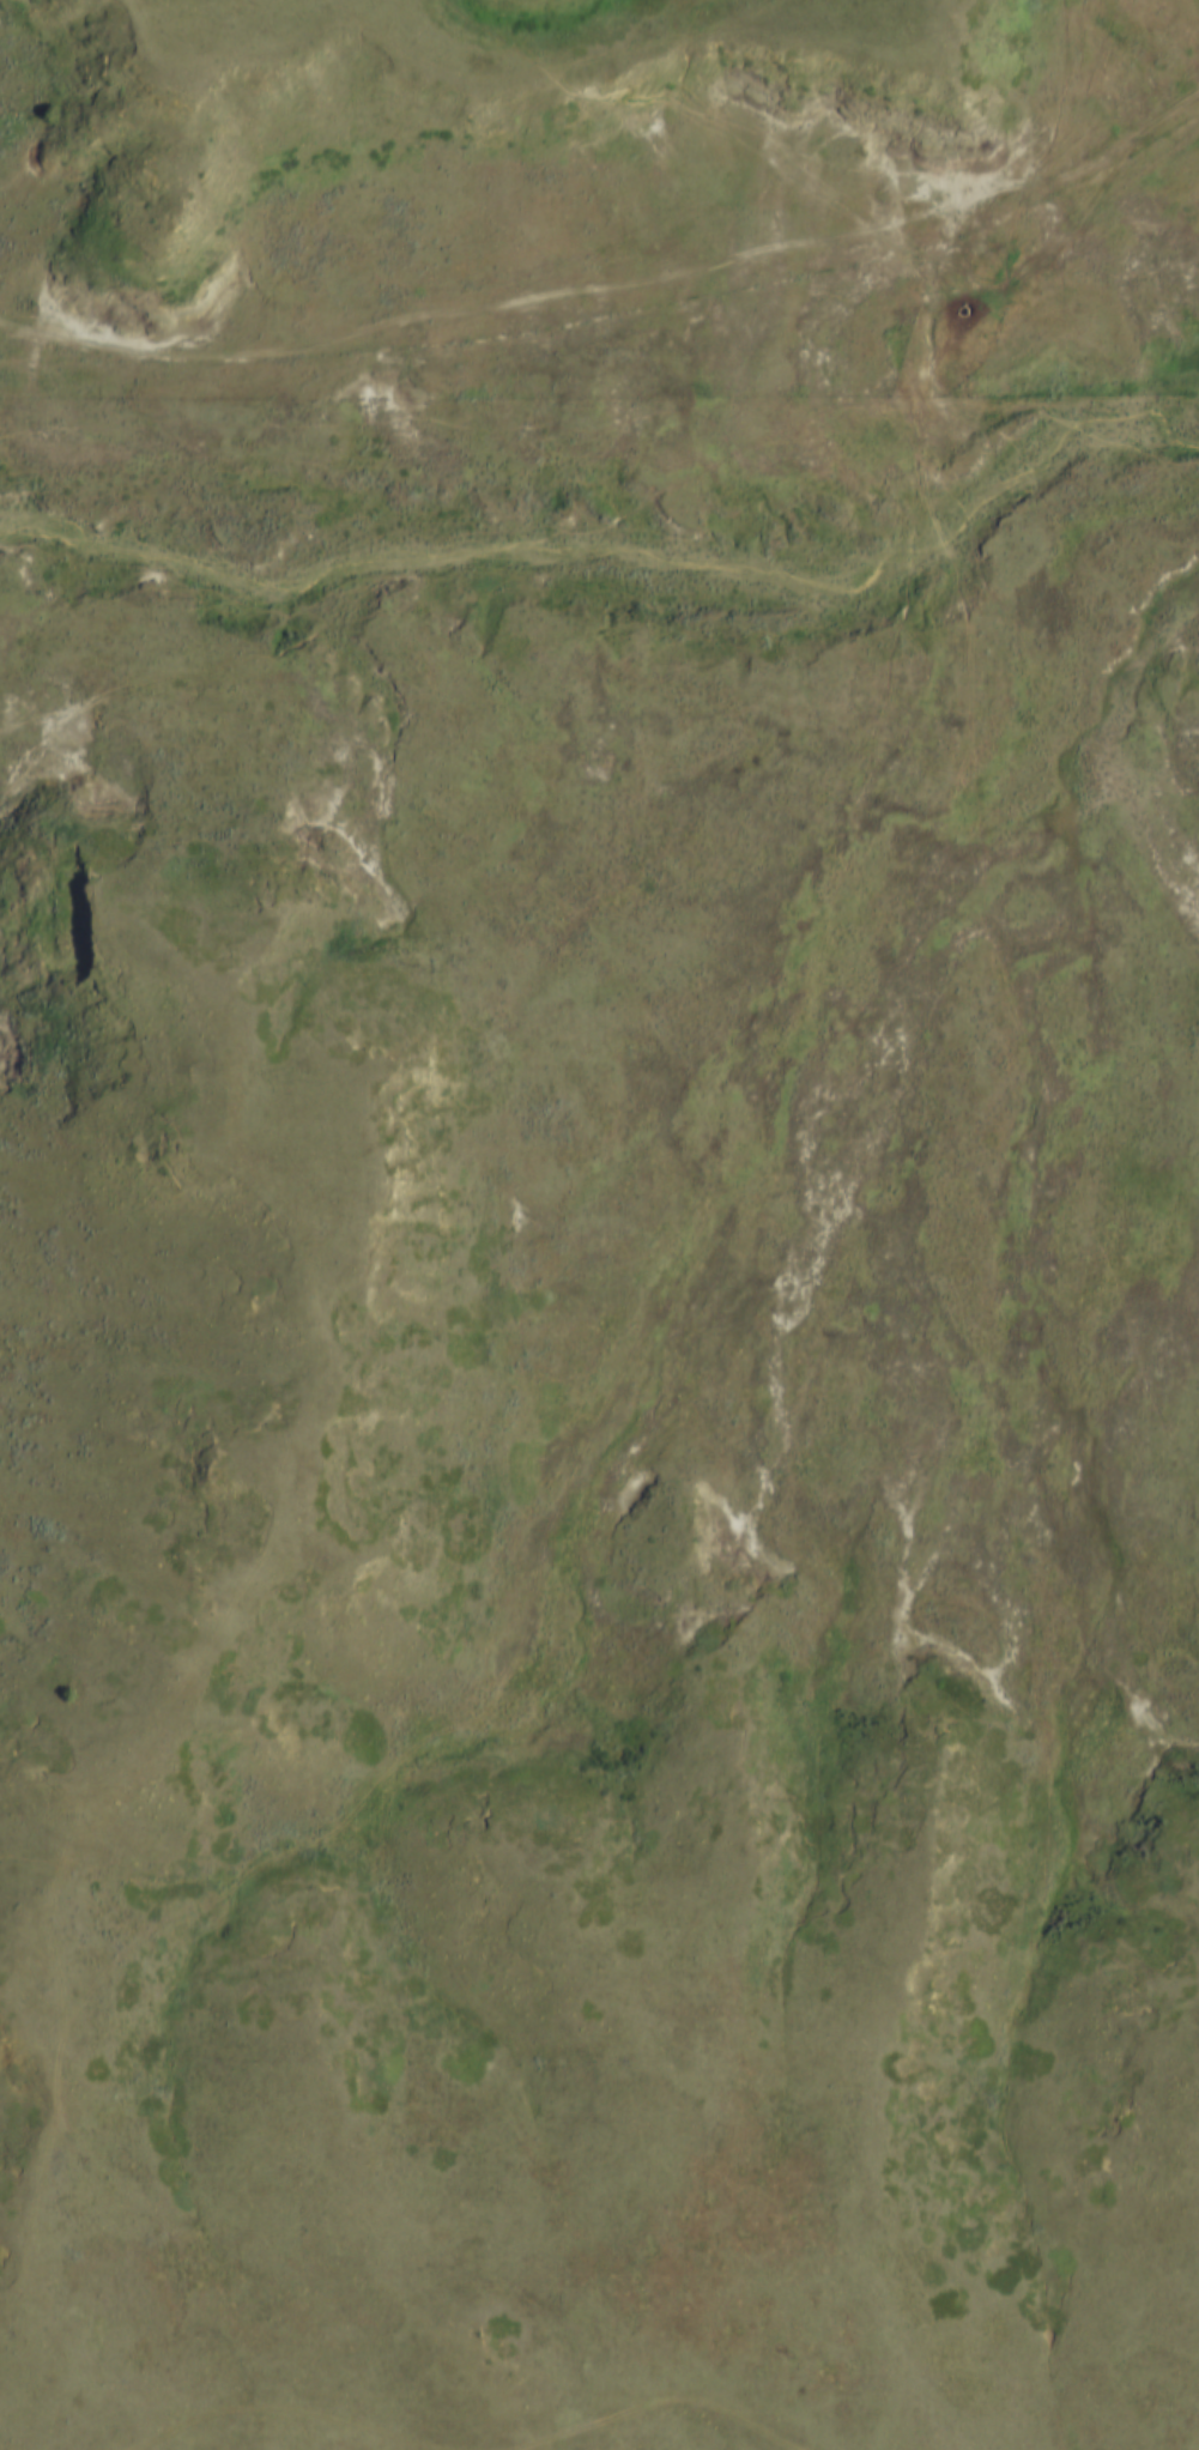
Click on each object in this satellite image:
road: (616, 294)
road: (661, 2404)
road: (293, 2413)

